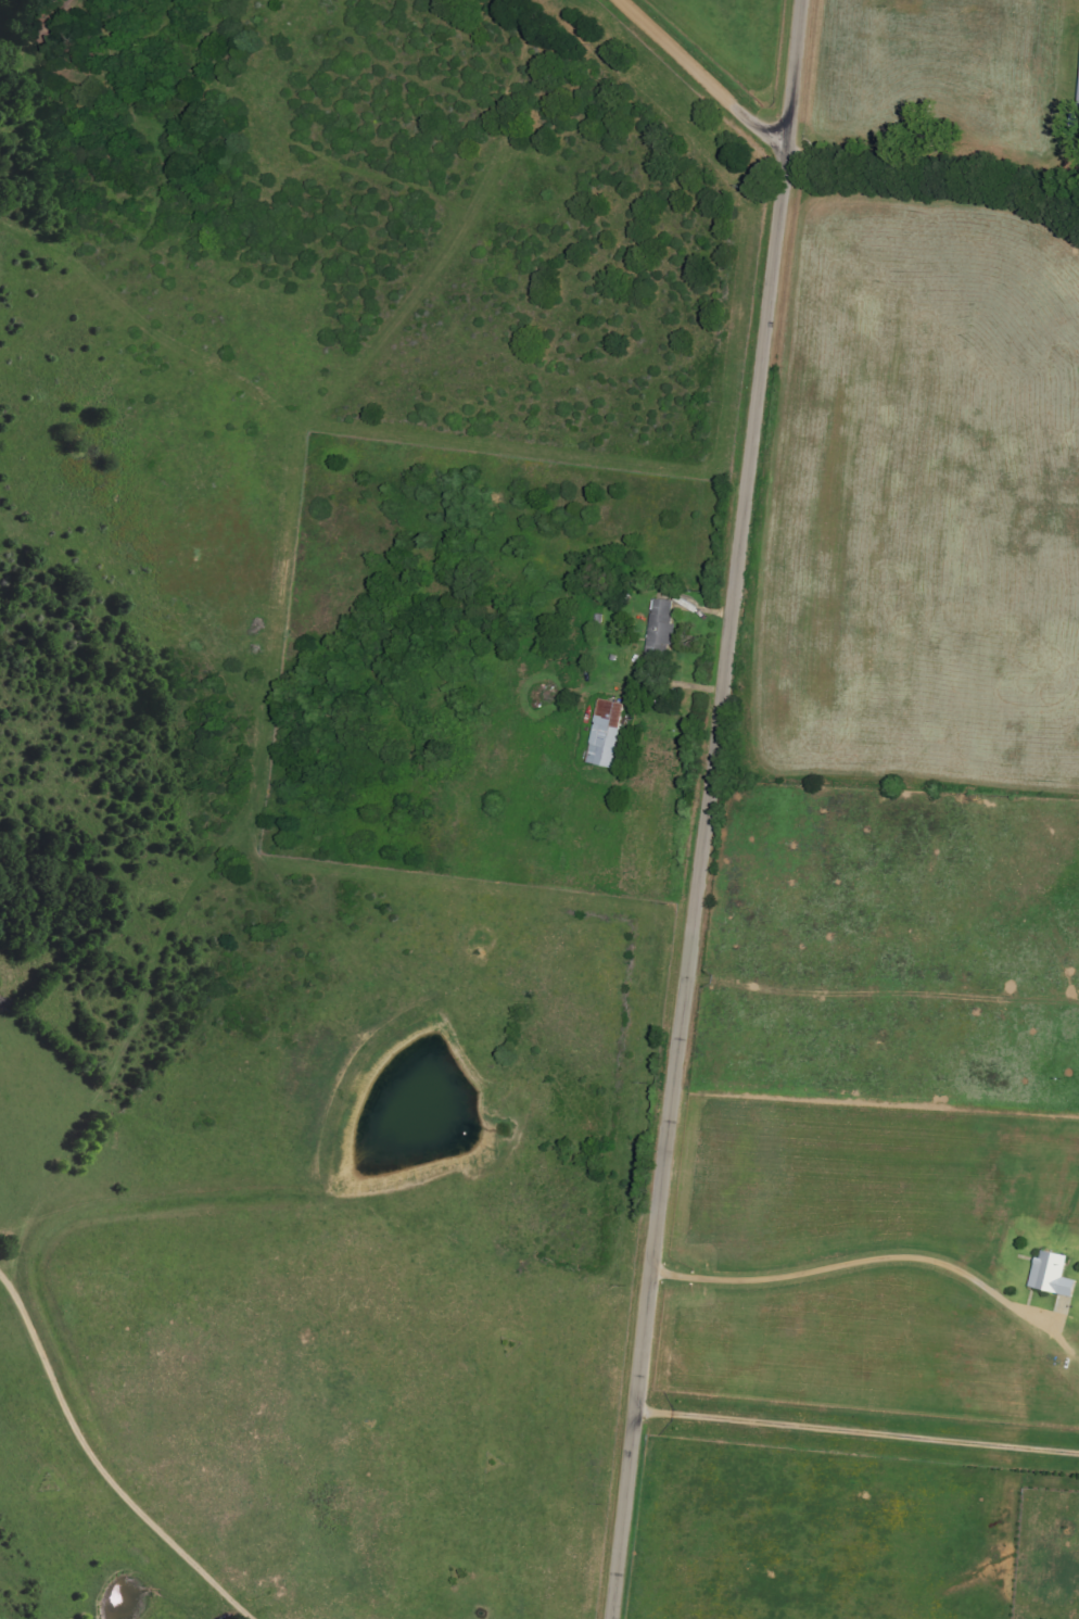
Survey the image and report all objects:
road: (703, 76)
building: (1078, 106)
road: (934, 177)
building: (661, 627)
building: (606, 734)
road: (710, 809)
building: (1051, 1275)

